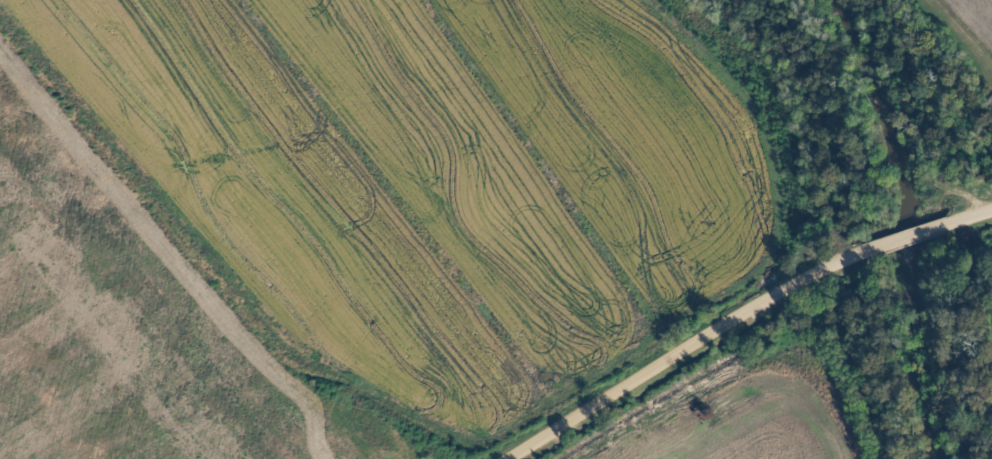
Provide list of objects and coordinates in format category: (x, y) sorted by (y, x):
road: (971, 219)
road: (907, 240)
road: (685, 352)

